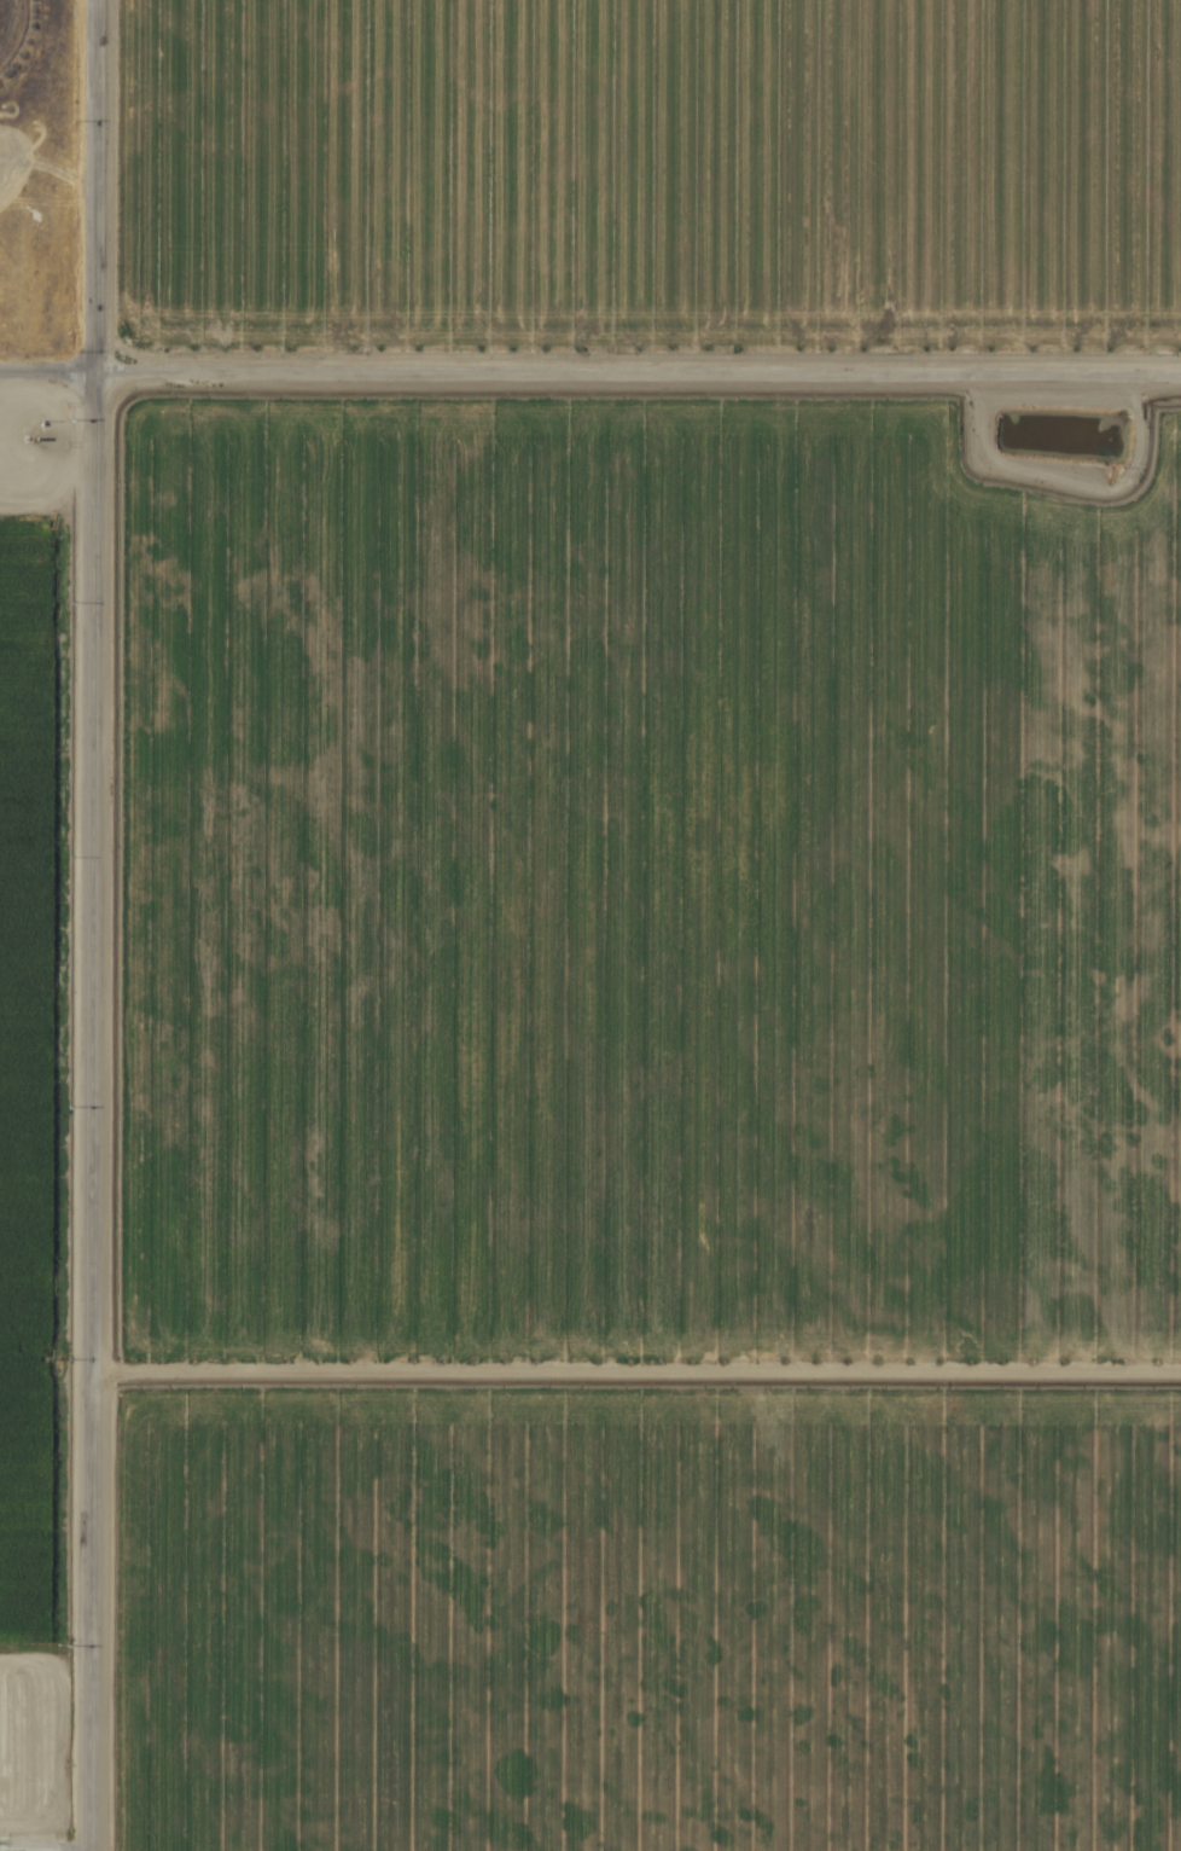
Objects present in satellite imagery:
road: (1116, 257)
road: (589, 376)
road: (93, 924)
road: (635, 1367)

